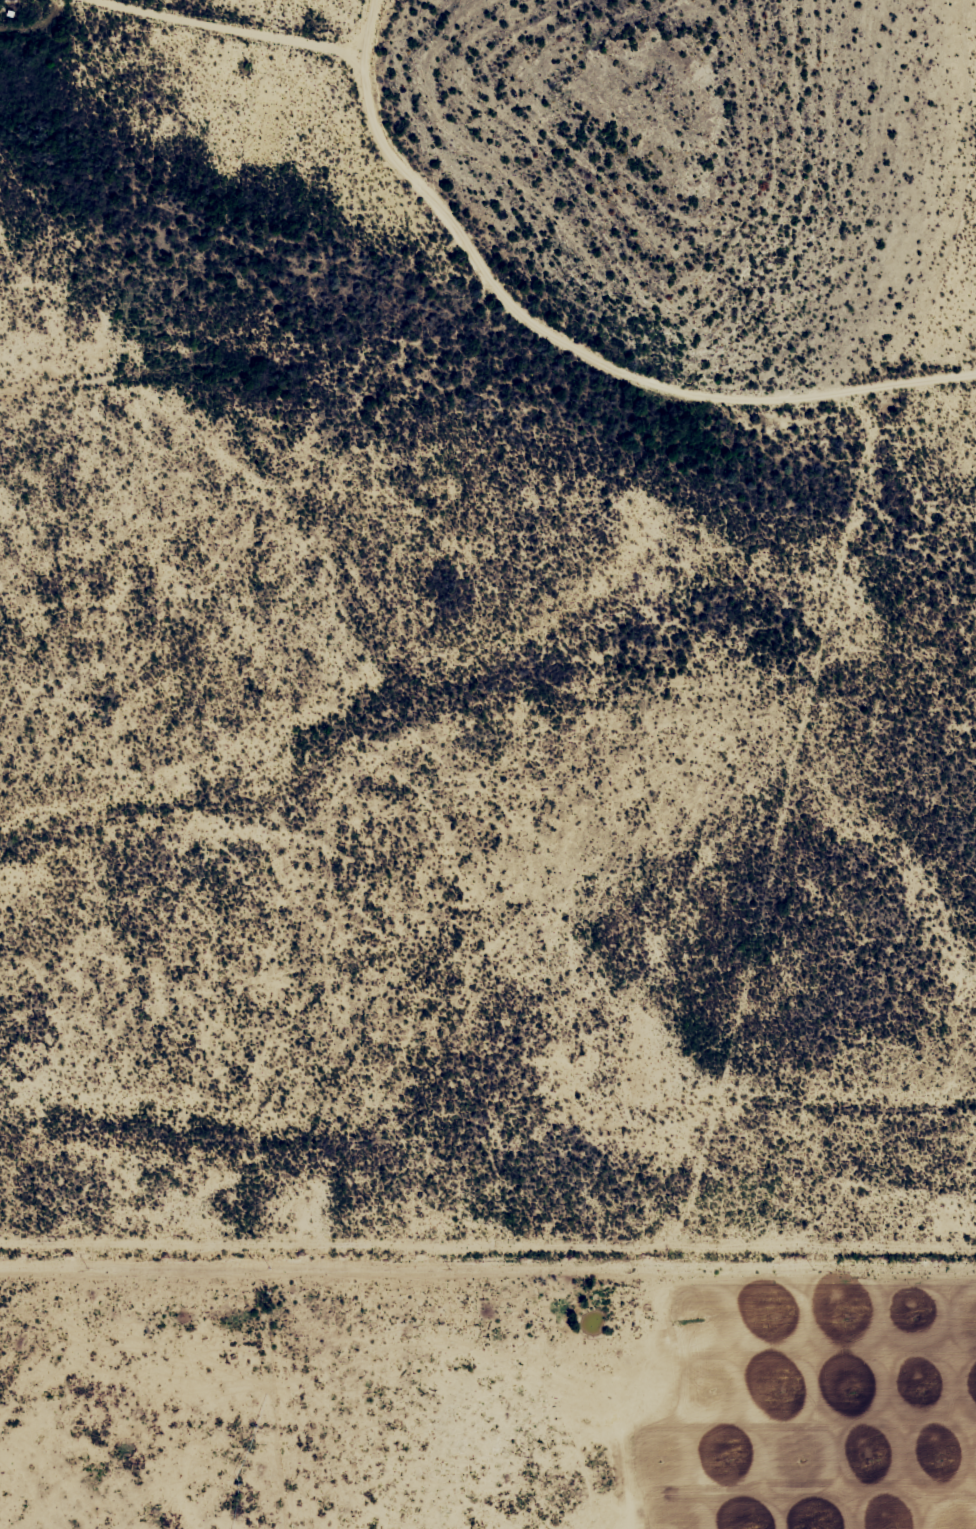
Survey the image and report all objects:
road: (198, 23)
road: (240, 360)
road: (546, 373)

